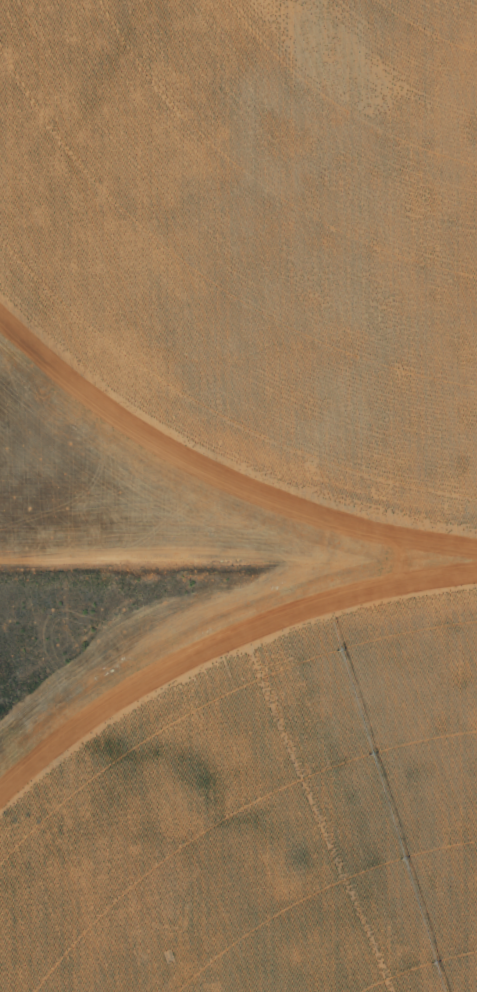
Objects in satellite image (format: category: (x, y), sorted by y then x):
road: (238, 546)

